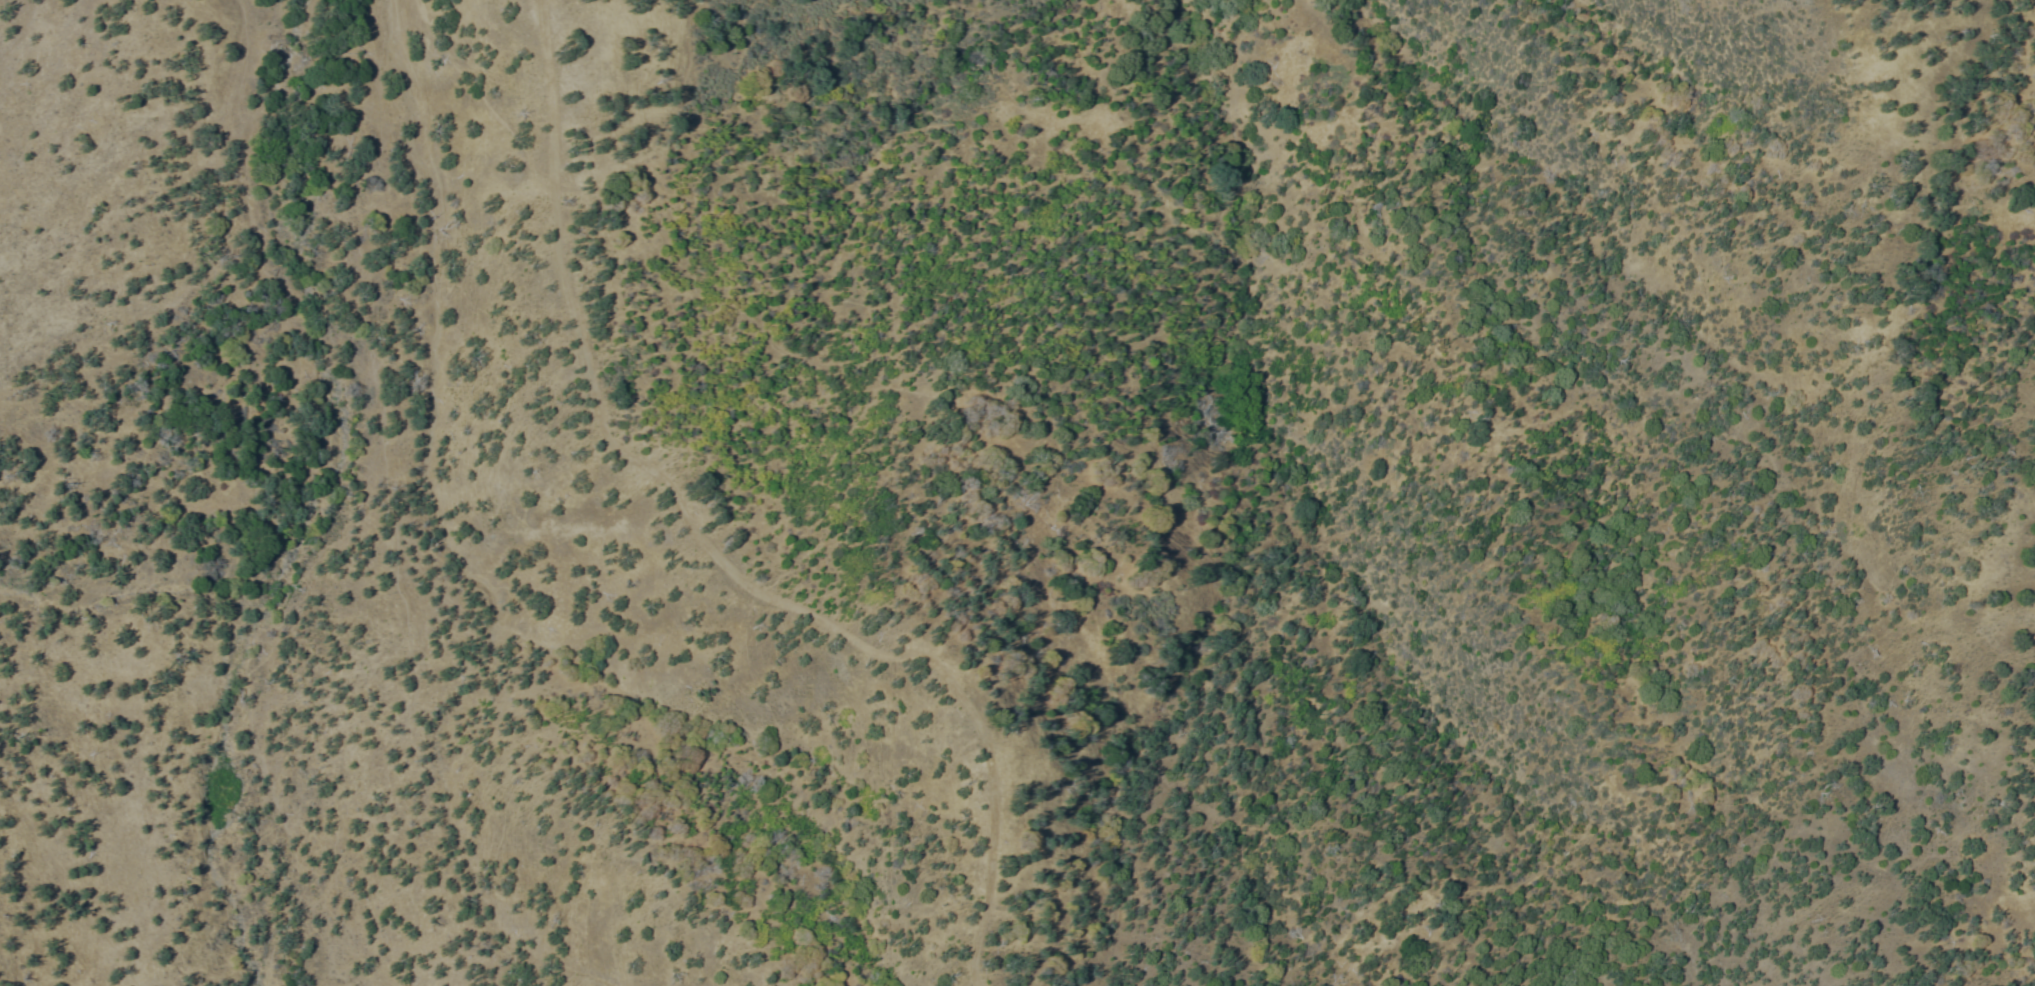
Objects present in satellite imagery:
road: (712, 555)

